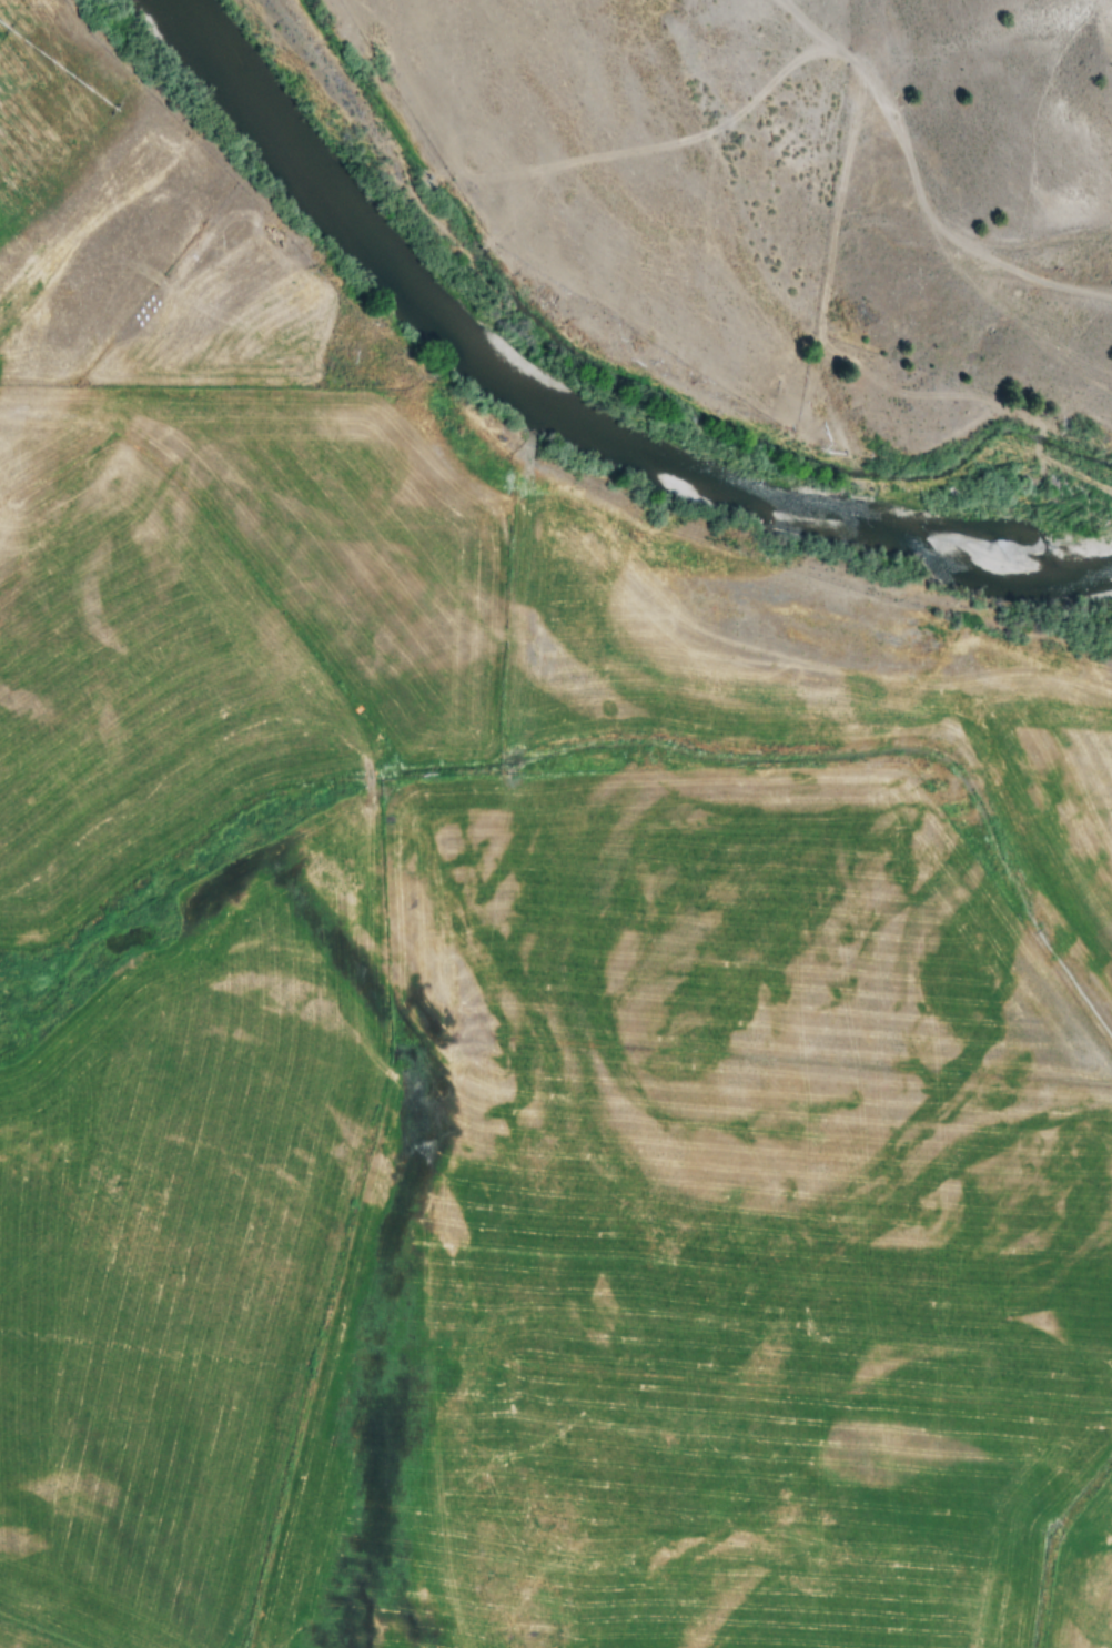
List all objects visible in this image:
river: (558, 422)

